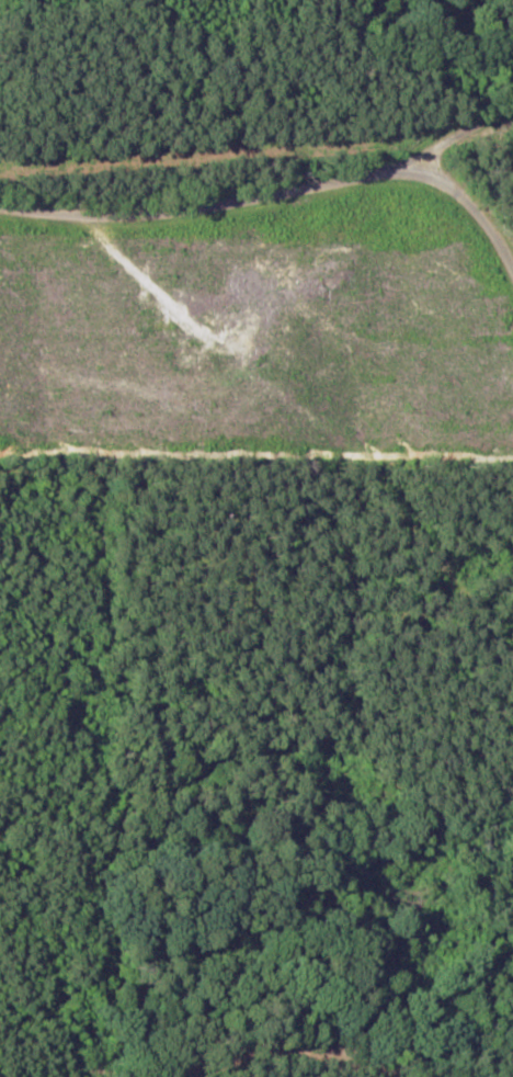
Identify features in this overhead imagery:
road: (438, 167)
road: (272, 219)

